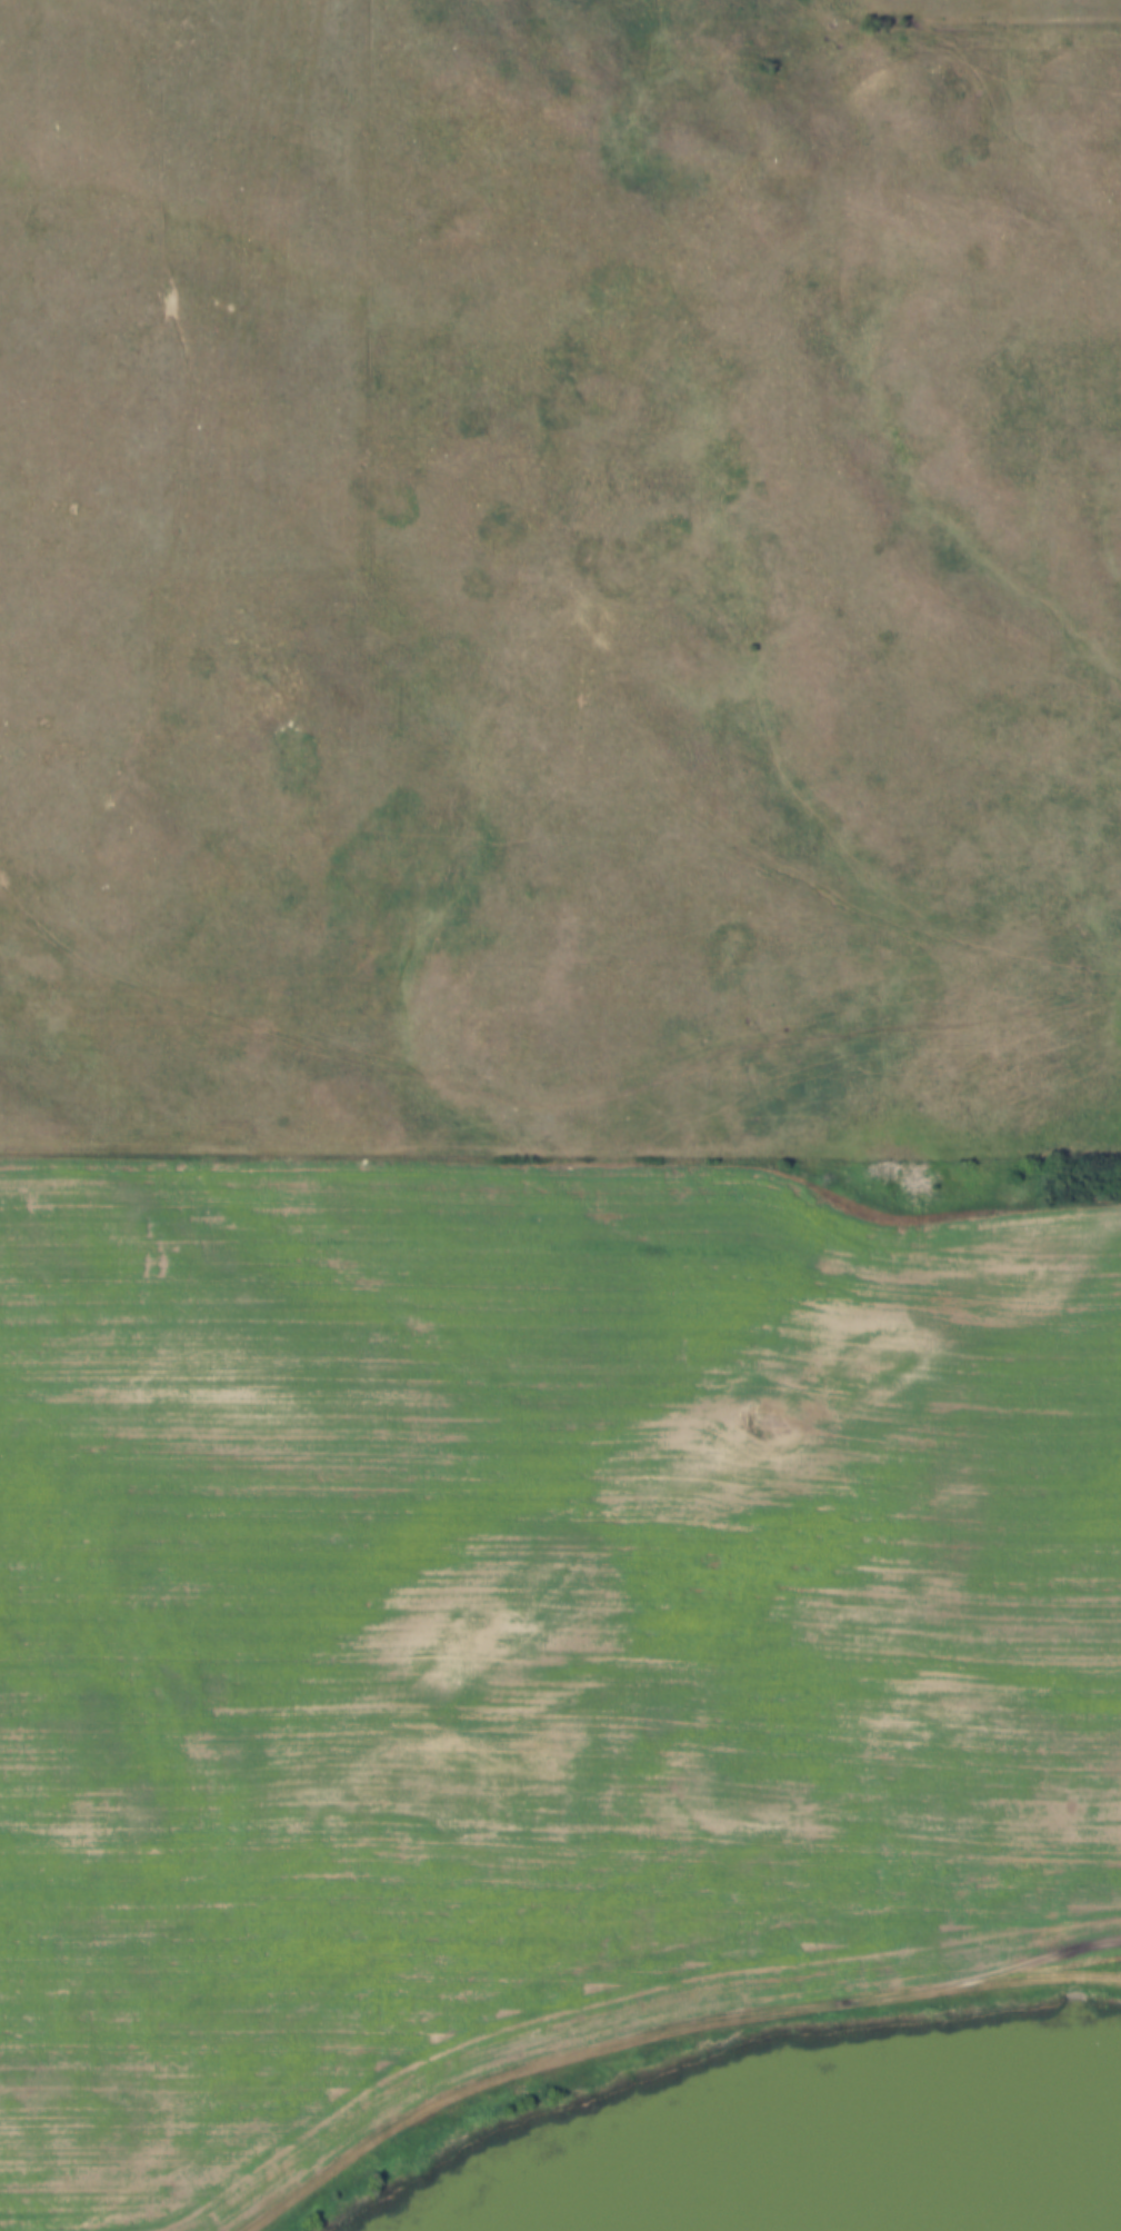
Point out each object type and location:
road: (653, 2023)

